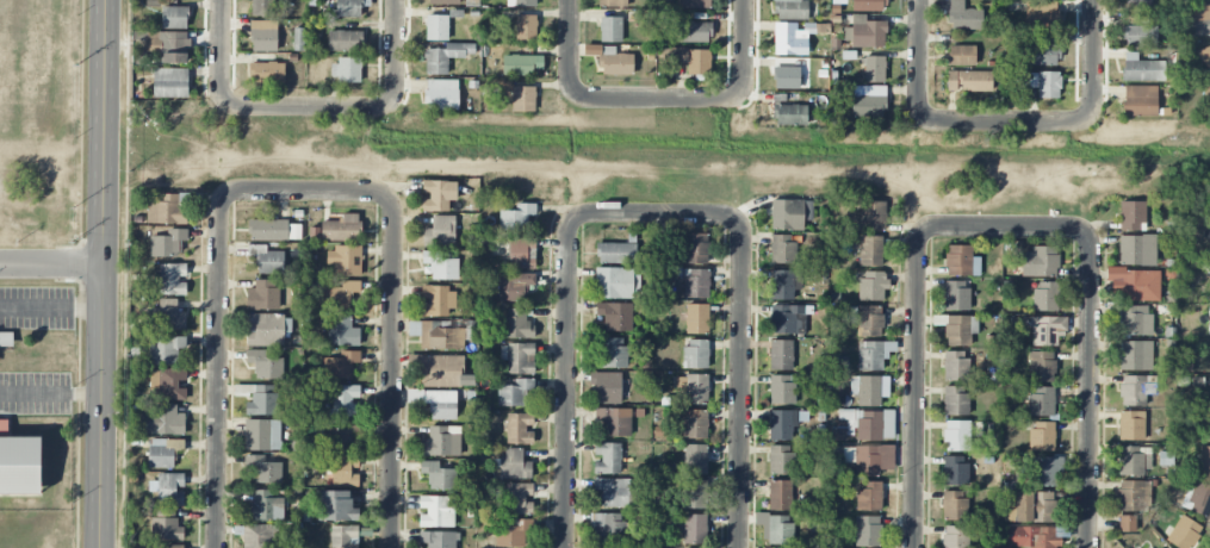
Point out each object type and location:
building: (442, 2)
building: (613, 2)
building: (696, 4)
building: (869, 5)
building: (1137, 5)
building: (262, 7)
building: (350, 7)
building: (790, 10)
building: (1042, 14)
building: (174, 17)
building: (964, 17)
building: (1198, 20)
building: (436, 27)
building: (526, 27)
building: (610, 29)
building: (694, 31)
building: (867, 32)
building: (1138, 35)
building: (263, 36)
building: (789, 39)
building: (345, 41)
building: (170, 45)
road: (743, 46)
road: (397, 49)
road: (570, 49)
road: (221, 50)
building: (961, 55)
building: (1042, 55)
building: (445, 57)
road: (918, 57)
building: (1205, 57)
road: (1097, 58)
building: (688, 60)
building: (615, 62)
building: (522, 64)
building: (1142, 68)
building: (346, 69)
building: (874, 69)
building: (267, 73)
building: (786, 77)
building: (969, 81)
building: (169, 82)
building: (1047, 83)
building: (441, 94)
building: (523, 99)
road: (662, 100)
building: (868, 100)
building: (1140, 100)
road: (309, 111)
building: (788, 112)
road: (1006, 120)
road: (305, 189)
building: (438, 195)
building: (166, 210)
road: (657, 212)
building: (790, 213)
building: (873, 216)
building: (1133, 216)
building: (516, 217)
road: (1003, 226)
building: (341, 229)
building: (268, 230)
building: (440, 231)
building: (167, 243)
building: (696, 248)
building: (783, 248)
building: (870, 250)
building: (1137, 250)
building: (1208, 250)
building: (616, 253)
building: (522, 254)
building: (267, 260)
building: (345, 260)
building: (961, 261)
building: (1040, 261)
road: (50, 264)
building: (441, 266)
road: (101, 273)
building: (172, 279)
building: (618, 284)
building: (696, 284)
building: (1135, 284)
building: (782, 285)
building: (514, 286)
building: (873, 286)
building: (263, 295)
building: (342, 295)
building: (956, 295)
building: (1045, 295)
building: (439, 300)
road: (50, 307)
building: (169, 315)
building: (616, 316)
building: (697, 318)
building: (787, 319)
building: (867, 320)
building: (1135, 320)
building: (517, 324)
building: (268, 329)
building: (954, 329)
building: (1048, 330)
building: (342, 331)
building: (436, 335)
building: (6, 340)
building: (166, 349)
building: (696, 353)
building: (612, 354)
building: (874, 354)
building: (781, 355)
building: (1133, 355)
building: (519, 357)
building: (265, 365)
building: (340, 365)
building: (956, 365)
road: (218, 366)
building: (1041, 366)
road: (392, 367)
building: (441, 370)
road: (567, 379)
road: (741, 381)
building: (169, 384)
road: (914, 385)
road: (1090, 385)
building: (608, 387)
building: (696, 388)
building: (782, 388)
building: (869, 388)
building: (1137, 390)
building: (515, 392)
road: (50, 394)
building: (345, 399)
building: (263, 400)
building: (956, 400)
building: (1041, 400)
building: (1209, 413)
building: (161, 421)
building: (614, 421)
building: (869, 423)
building: (691, 424)
building: (782, 424)
building: (1131, 425)
building: (4, 428)
building: (520, 428)
building: (838, 434)
building: (262, 435)
building: (343, 435)
building: (957, 435)
building: (1042, 436)
building: (442, 441)
building: (162, 452)
building: (607, 457)
building: (695, 459)
building: (781, 460)
building: (874, 460)
building: (1134, 460)
building: (1205, 461)
building: (515, 465)
building: (20, 466)
building: (263, 469)
building: (345, 471)
building: (955, 471)
building: (1045, 471)
building: (439, 475)
building: (168, 488)
building: (614, 491)
building: (694, 493)
building: (781, 494)
building: (869, 496)
building: (1133, 496)
building: (517, 498)
building: (1199, 499)
building: (954, 504)
building: (265, 506)
building: (335, 506)
building: (1029, 506)
building: (436, 511)
building: (1127, 523)
park: (35, 527)
building: (166, 527)
building: (608, 528)
building: (694, 529)
building: (780, 530)
building: (867, 530)
building: (514, 533)
building: (1184, 533)
building: (257, 536)
building: (343, 536)
building: (956, 536)
building: (1031, 536)
building: (439, 538)
building: (174, 546)
building: (603, 547)
building: (1164, 547)

